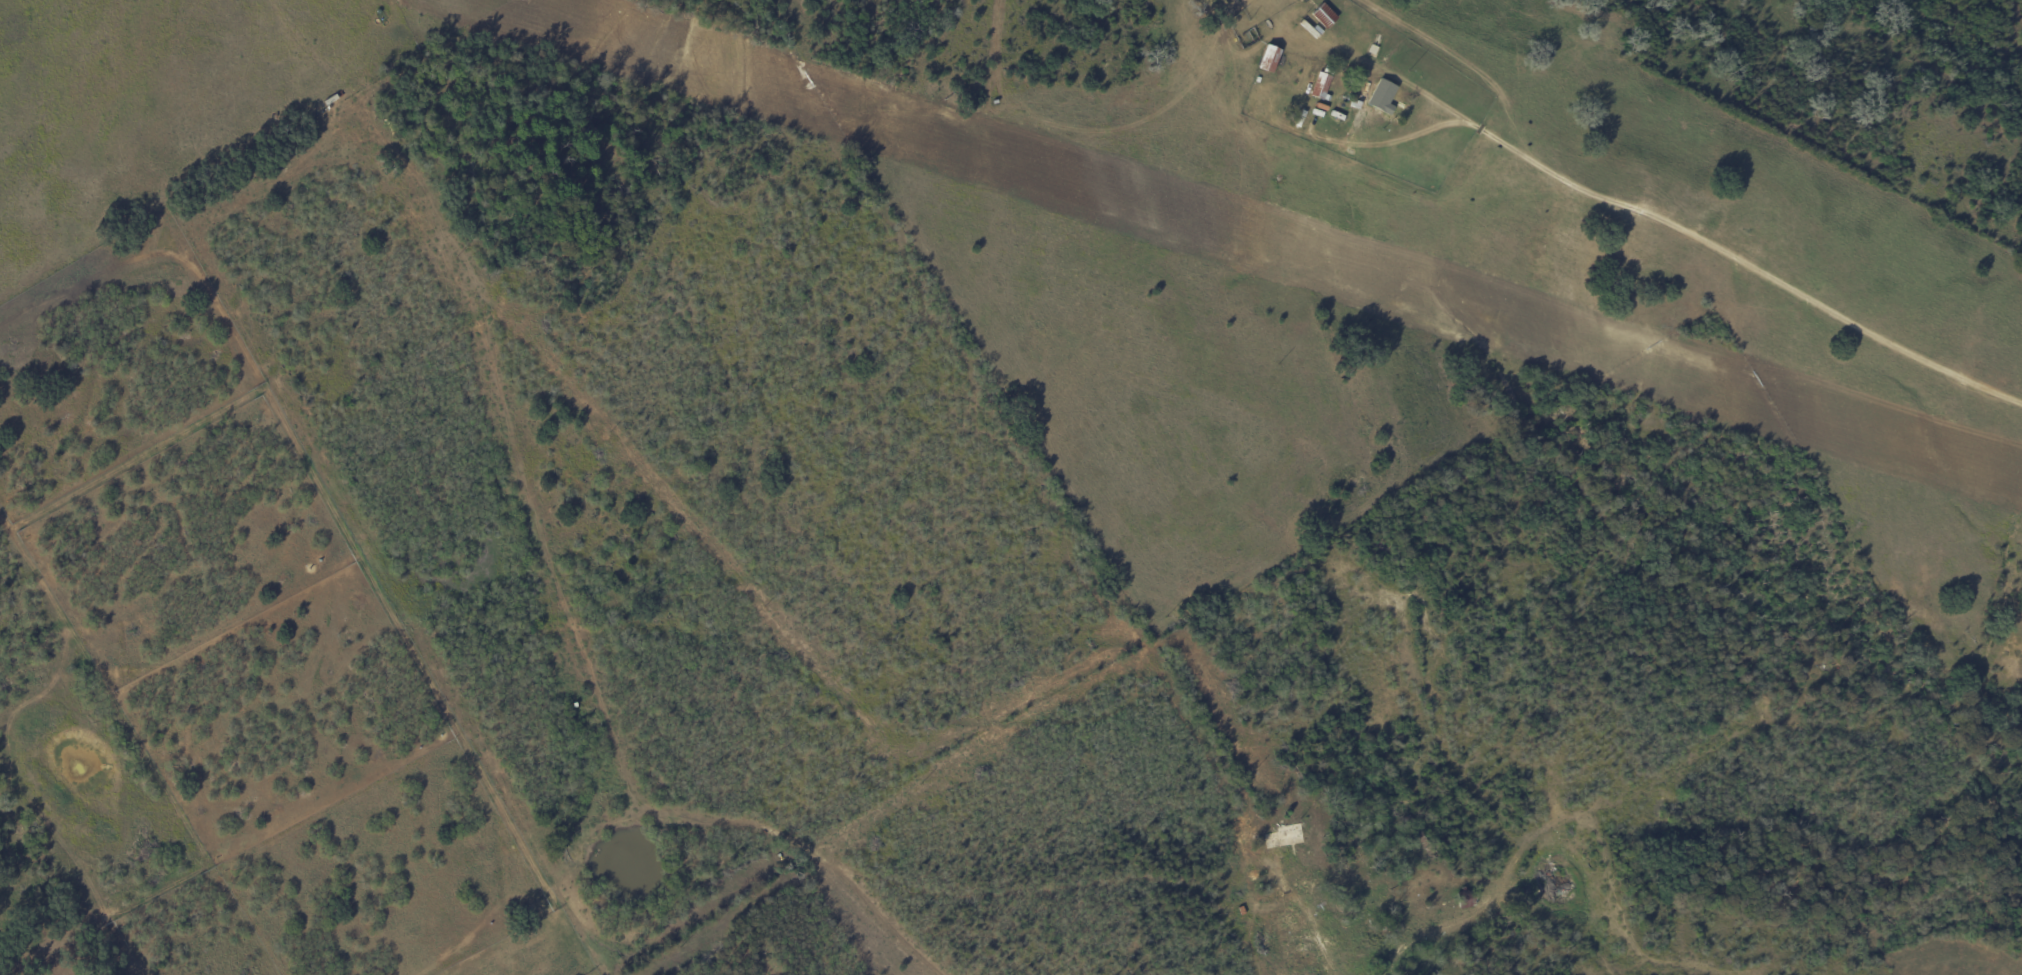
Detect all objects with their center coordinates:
building: (1269, 58)
road: (1745, 258)
road: (1317, 942)

